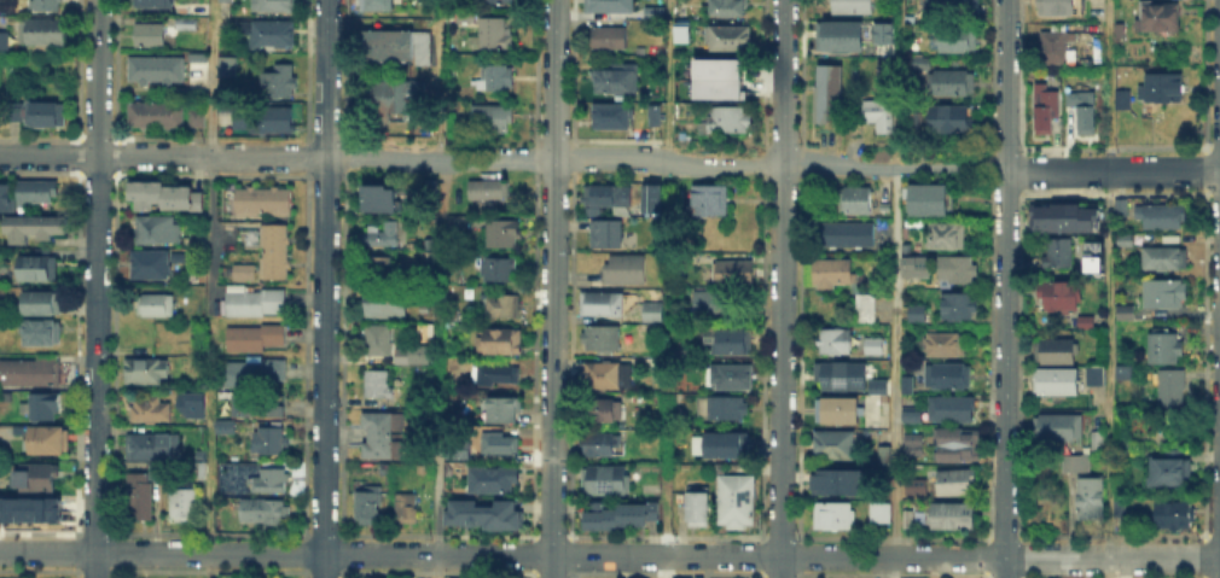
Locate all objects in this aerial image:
building: (4, 1)
building: (225, 1)
building: (495, 1)
building: (158, 4)
building: (47, 5)
building: (606, 5)
building: (852, 5)
building: (274, 6)
building: (378, 6)
building: (951, 6)
building: (1053, 6)
road: (1109, 6)
building: (730, 7)
building: (651, 11)
building: (1158, 18)
building: (187, 24)
building: (679, 30)
building: (42, 33)
building: (493, 33)
building: (149, 34)
building: (885, 34)
building: (268, 36)
building: (844, 36)
building: (6, 40)
building: (609, 40)
building: (730, 40)
building: (958, 41)
building: (1053, 45)
building: (385, 46)
building: (425, 49)
building: (923, 64)
building: (715, 66)
building: (228, 68)
building: (156, 70)
road: (440, 78)
building: (498, 78)
building: (616, 81)
building: (280, 83)
building: (951, 84)
building: (22, 86)
building: (1161, 86)
building: (715, 87)
building: (827, 94)
building: (396, 95)
building: (1123, 100)
building: (14, 110)
building: (1048, 110)
building: (151, 113)
building: (1085, 113)
building: (194, 115)
building: (655, 115)
building: (47, 116)
building: (615, 117)
building: (877, 117)
building: (244, 118)
building: (949, 118)
building: (494, 119)
building: (275, 121)
building: (731, 122)
building: (916, 122)
road: (162, 157)
road: (440, 158)
road: (612, 160)
road: (840, 164)
road: (1112, 169)
building: (488, 191)
building: (37, 192)
building: (162, 193)
building: (608, 197)
building: (6, 198)
building: (260, 198)
building: (710, 198)
building: (655, 199)
building: (383, 202)
building: (934, 202)
building: (855, 203)
building: (1122, 208)
building: (1064, 216)
building: (1162, 216)
building: (459, 227)
building: (34, 228)
building: (158, 229)
building: (504, 235)
building: (606, 235)
building: (849, 235)
building: (946, 237)
building: (382, 238)
building: (1125, 240)
building: (273, 250)
building: (1061, 255)
building: (1092, 255)
building: (430, 261)
building: (1168, 262)
building: (152, 267)
building: (1097, 267)
building: (40, 269)
building: (242, 269)
building: (382, 269)
building: (953, 269)
building: (501, 270)
building: (626, 270)
building: (733, 274)
building: (835, 274)
road: (891, 278)
building: (1121, 278)
building: (920, 281)
road: (95, 288)
road: (324, 288)
road: (553, 288)
road: (783, 288)
road: (1006, 288)
road: (1108, 294)
building: (1167, 294)
building: (1062, 297)
building: (43, 304)
building: (257, 304)
building: (602, 304)
building: (716, 305)
building: (158, 306)
building: (388, 306)
building: (504, 306)
road: (440, 309)
building: (960, 309)
building: (866, 310)
building: (652, 311)
building: (919, 315)
building: (1127, 315)
building: (1088, 323)
building: (42, 334)
building: (604, 338)
building: (257, 339)
building: (500, 340)
building: (379, 341)
building: (731, 341)
building: (835, 343)
building: (946, 344)
building: (873, 348)
building: (1166, 349)
building: (1056, 351)
building: (420, 356)
building: (146, 370)
building: (30, 373)
building: (256, 374)
building: (842, 374)
building: (499, 375)
building: (609, 375)
building: (948, 376)
building: (1094, 376)
building: (730, 378)
building: (875, 384)
building: (1058, 384)
building: (378, 385)
building: (908, 386)
building: (1170, 386)
building: (188, 403)
building: (258, 404)
building: (45, 409)
building: (726, 409)
building: (604, 410)
building: (951, 410)
building: (152, 411)
building: (506, 411)
building: (842, 411)
building: (908, 411)
building: (227, 428)
building: (1059, 428)
building: (383, 436)
building: (1099, 440)
building: (269, 442)
building: (48, 443)
building: (499, 444)
building: (605, 444)
building: (836, 446)
building: (916, 446)
building: (960, 446)
building: (150, 448)
building: (709, 448)
building: (1139, 450)
building: (884, 455)
building: (1076, 463)
building: (197, 468)
road: (207, 469)
building: (1169, 472)
building: (494, 475)
building: (36, 479)
building: (271, 479)
building: (604, 480)
building: (842, 481)
building: (957, 484)
building: (917, 486)
building: (143, 495)
building: (737, 500)
building: (1093, 500)
building: (187, 504)
building: (370, 506)
building: (29, 508)
building: (698, 508)
building: (407, 509)
building: (1121, 509)
building: (262, 510)
building: (483, 513)
building: (882, 513)
building: (953, 515)
building: (622, 516)
building: (1174, 516)
building: (835, 518)
building: (910, 520)
road: (447, 555)
road: (1057, 557)
road: (436, 566)
road: (664, 567)
road: (893, 567)

